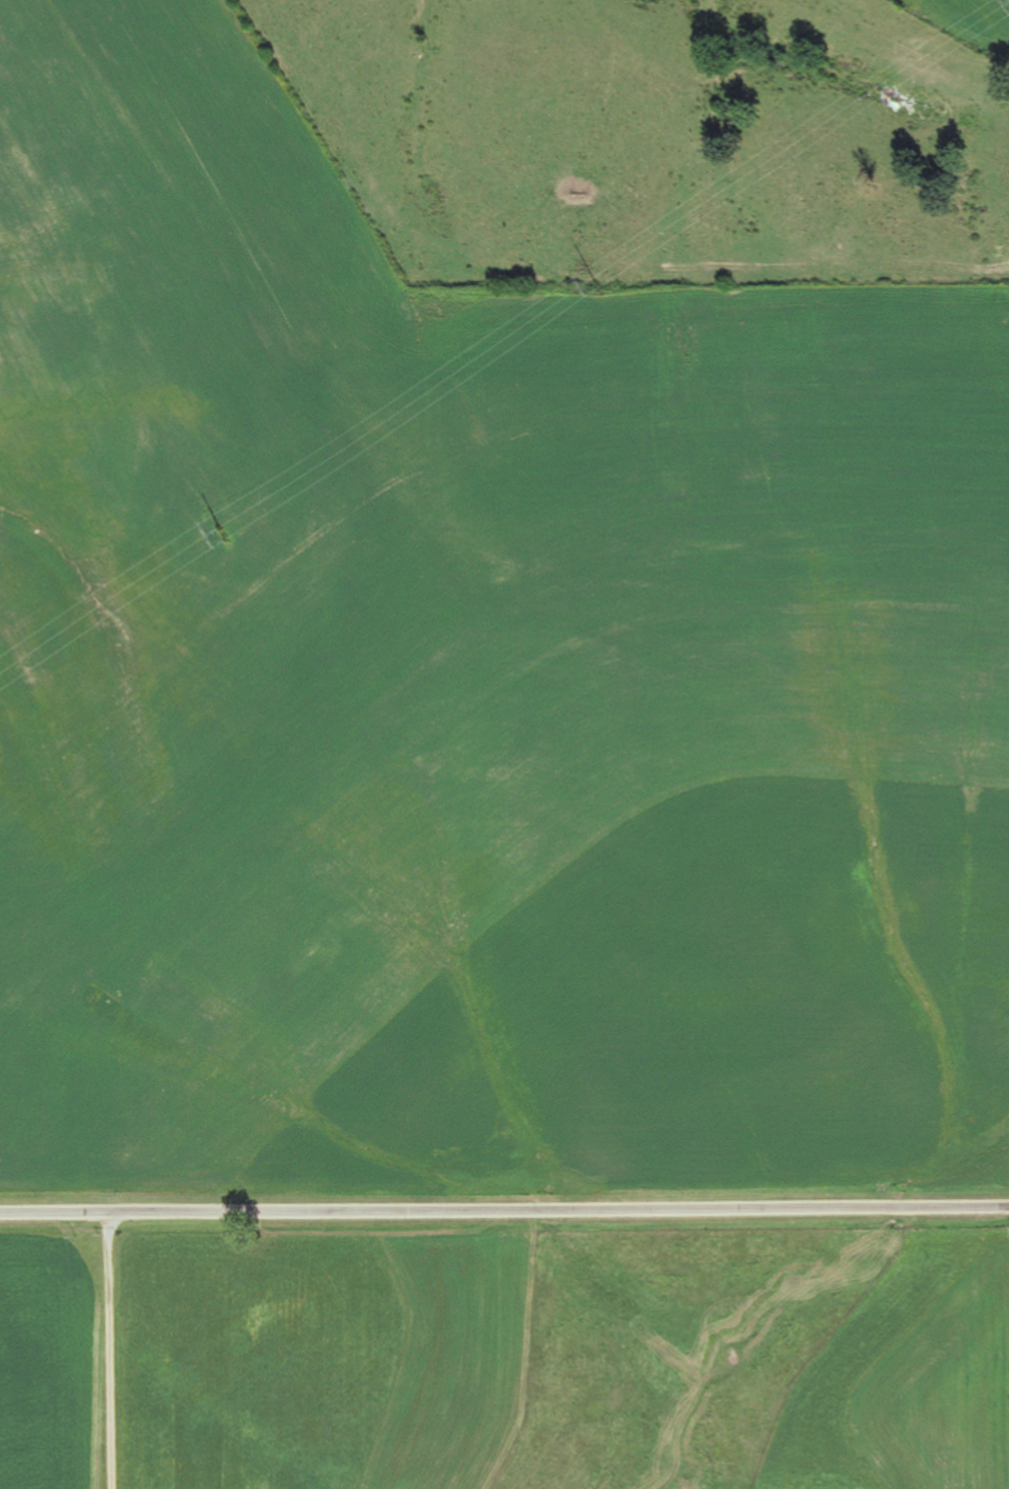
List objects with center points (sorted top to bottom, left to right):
power tower: (606, 293)
power tower: (231, 542)
road: (504, 1195)
road: (148, 1343)

